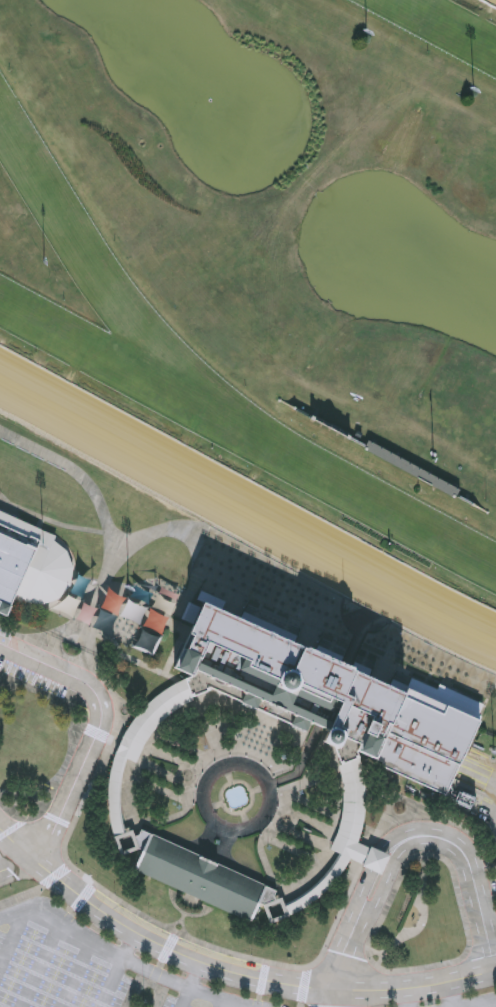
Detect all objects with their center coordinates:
track: (268, 275)
flagpole: (435, 457)
flagpole: (487, 500)
road: (51, 521)
road: (206, 527)
road: (106, 535)
road: (132, 551)
building: (90, 593)
parking lot: (33, 678)
road: (57, 698)
building: (333, 698)
road: (98, 731)
road: (97, 733)
road: (228, 773)
road: (59, 778)
road: (223, 789)
road: (260, 789)
fountain: (237, 797)
building: (353, 800)
road: (213, 806)
road: (11, 813)
road: (57, 820)
road: (246, 820)
road: (13, 829)
road: (488, 831)
road: (378, 833)
road: (66, 839)
road: (417, 844)
building: (376, 860)
road: (15, 865)
road: (370, 873)
road: (56, 875)
road: (21, 895)
road: (83, 897)
road: (184, 913)
road: (426, 915)
road: (183, 918)
road: (62, 921)
road: (175, 924)
road: (165, 925)
road: (176, 932)
road: (189, 935)
road: (12, 937)
parking lot: (2, 938)
road: (154, 942)
road: (470, 943)
road: (129, 946)
road: (168, 948)
road: (380, 954)
road: (63, 956)
road: (41, 964)
parking lot: (20, 966)
parking lot: (85, 966)
road: (76, 973)
road: (72, 975)
road: (155, 975)
road: (196, 976)
parking lot: (54, 978)
road: (263, 979)
road: (145, 981)
road: (112, 982)
road: (59, 984)
parking lot: (90, 985)
road: (304, 985)
road: (419, 986)
road: (39, 990)
parking lot: (121, 991)
road: (449, 994)
road: (20, 997)
road: (260, 997)
road: (409, 997)
road: (186, 998)
road: (220, 999)
road: (339, 999)
parking lot: (170, 1001)
road: (222, 1003)
building: (430, 1003)
road: (481, 1003)
road: (488, 1004)
road: (3, 1005)
road: (301, 1005)
parking lot: (494, 1006)

